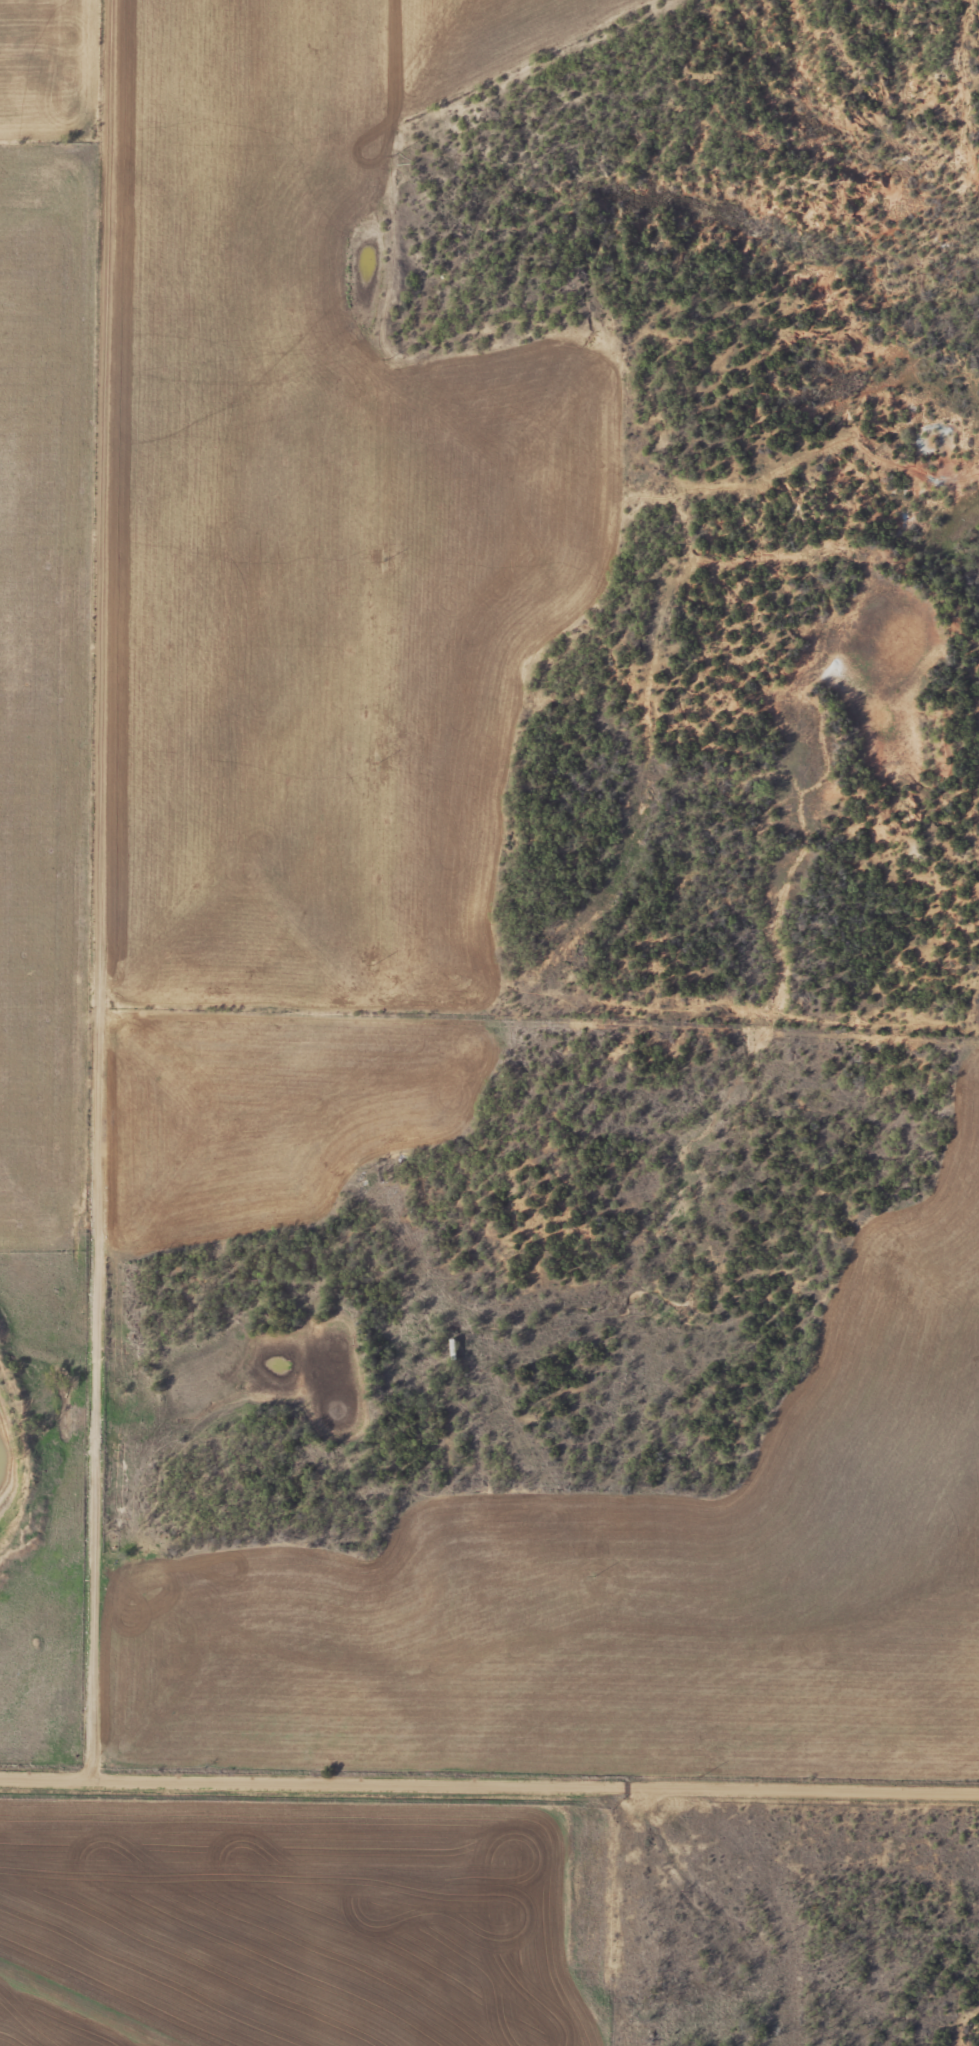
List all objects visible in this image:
road: (450, 1468)
road: (489, 1803)

